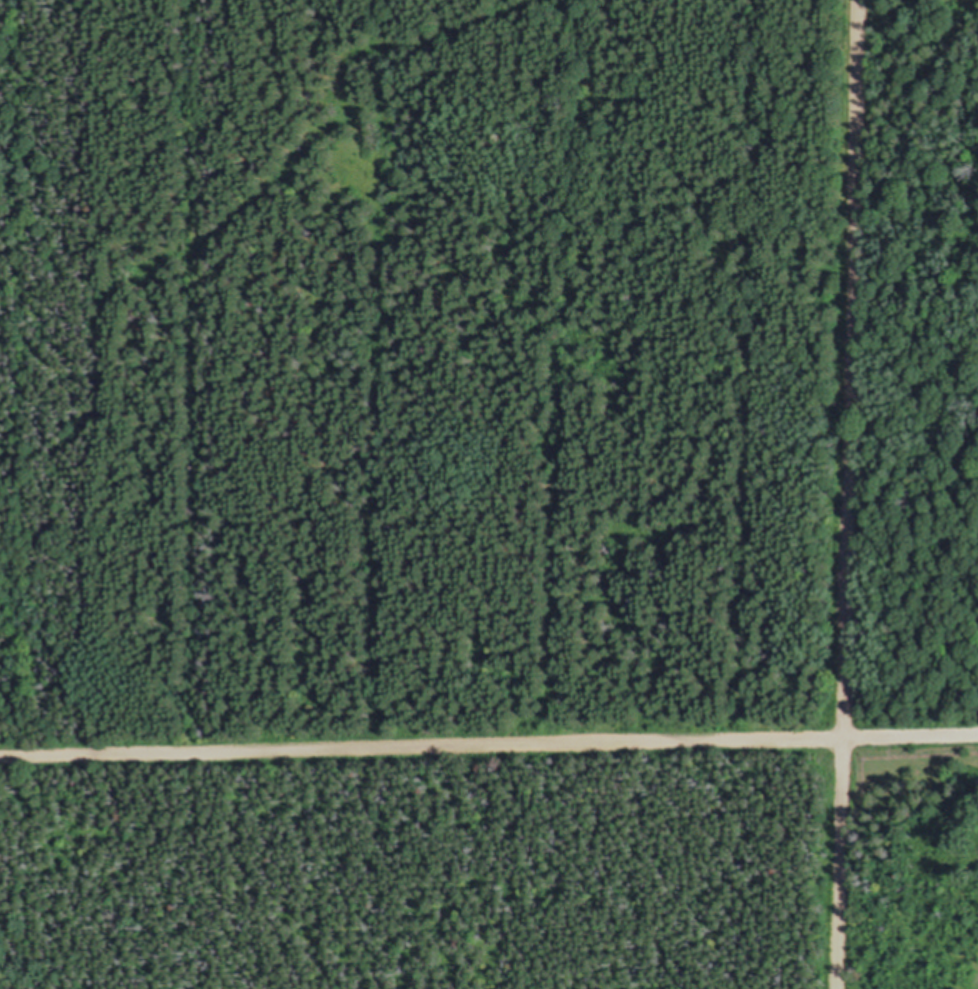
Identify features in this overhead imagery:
road: (849, 494)
road: (489, 745)

